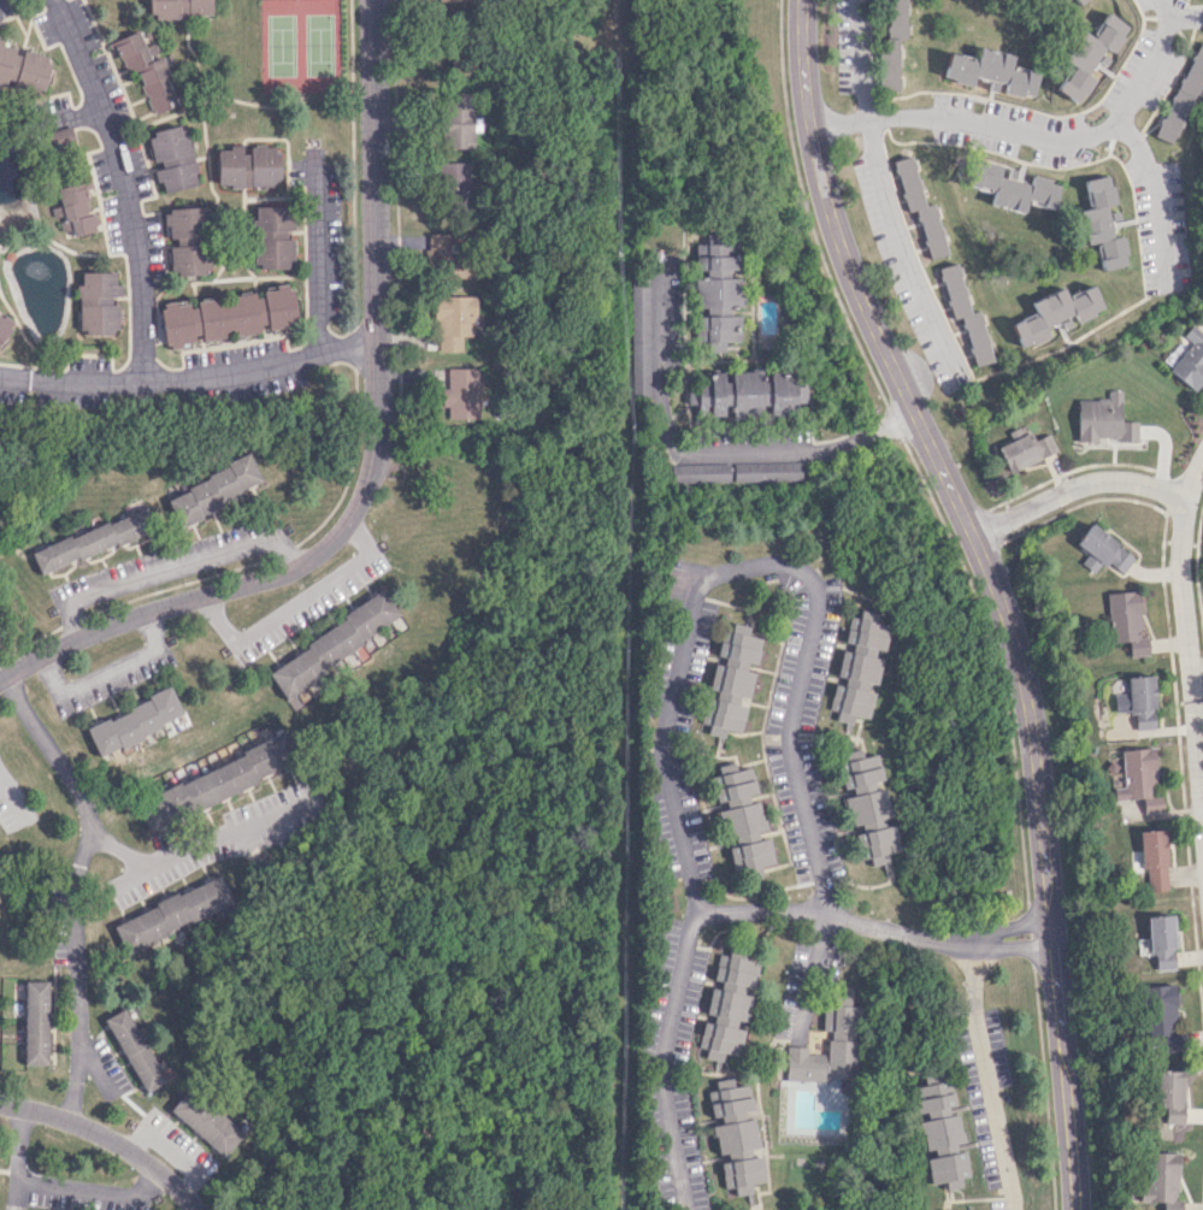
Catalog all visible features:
building: (1077, 1)
building: (179, 8)
road: (1185, 16)
building: (892, 43)
park: (299, 46)
building: (1089, 54)
building: (22, 69)
building: (145, 69)
building: (991, 72)
building: (1184, 94)
building: (458, 119)
road: (966, 123)
building: (59, 138)
road: (1133, 138)
building: (171, 158)
building: (247, 166)
building: (454, 183)
building: (1013, 187)
road: (125, 188)
road: (883, 193)
building: (920, 207)
building: (73, 208)
road: (804, 208)
building: (1103, 223)
building: (272, 236)
building: (188, 240)
road: (316, 250)
building: (717, 294)
building: (96, 302)
building: (1056, 312)
building: (966, 314)
building: (228, 315)
building: (453, 320)
building: (4, 325)
building: (639, 325)
road: (1063, 346)
building: (1190, 360)
road: (190, 384)
building: (460, 392)
building: (745, 392)
building: (1103, 419)
road: (894, 423)
building: (1024, 447)
road: (696, 453)
road: (372, 458)
building: (767, 471)
building: (701, 472)
road: (1195, 477)
building: (213, 489)
building: (92, 539)
road: (1181, 544)
building: (1101, 550)
road: (179, 566)
road: (995, 589)
road: (851, 591)
road: (306, 604)
road: (750, 621)
building: (1125, 621)
building: (0, 627)
road: (841, 645)
road: (702, 656)
building: (735, 662)
road: (993, 666)
building: (856, 667)
road: (107, 671)
road: (772, 671)
road: (832, 678)
road: (695, 690)
road: (767, 700)
building: (1136, 701)
road: (765, 704)
building: (721, 715)
building: (132, 721)
road: (742, 733)
road: (826, 734)
road: (854, 739)
road: (718, 742)
road: (730, 756)
building: (1138, 777)
road: (794, 779)
road: (8, 792)
road: (836, 793)
road: (759, 795)
building: (866, 808)
road: (701, 810)
building: (741, 819)
road: (845, 831)
road: (768, 832)
road: (782, 836)
road: (709, 846)
road: (196, 856)
building: (1154, 858)
road: (688, 869)
road: (76, 886)
road: (866, 886)
road: (751, 895)
building: (172, 913)
road: (872, 926)
road: (723, 928)
road: (1031, 935)
building: (1161, 942)
building: (735, 970)
road: (712, 981)
road: (835, 986)
road: (704, 1016)
building: (1161, 1016)
building: (35, 1022)
building: (724, 1022)
road: (826, 1034)
building: (827, 1047)
building: (134, 1050)
road: (698, 1070)
road: (726, 1073)
road: (989, 1075)
road: (1044, 1087)
building: (1170, 1096)
building: (205, 1121)
road: (707, 1121)
building: (939, 1133)
building: (735, 1135)
road: (107, 1140)
road: (24, 1159)
road: (714, 1159)
building: (1163, 1179)
road: (95, 1196)
road: (750, 1202)

